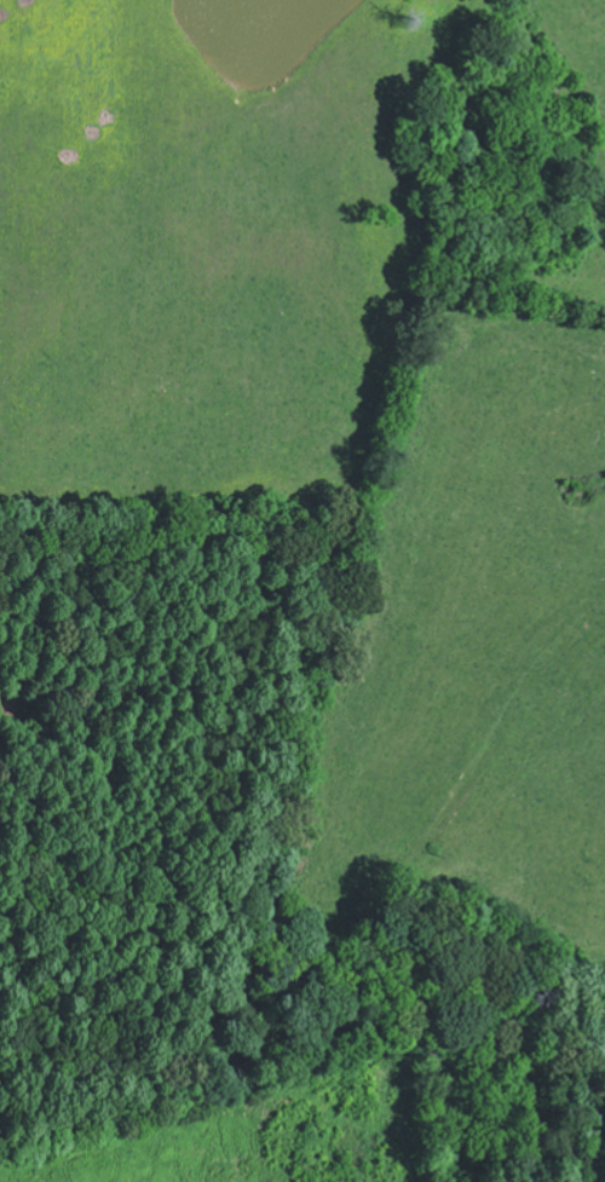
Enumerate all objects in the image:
building: (1, 691)

